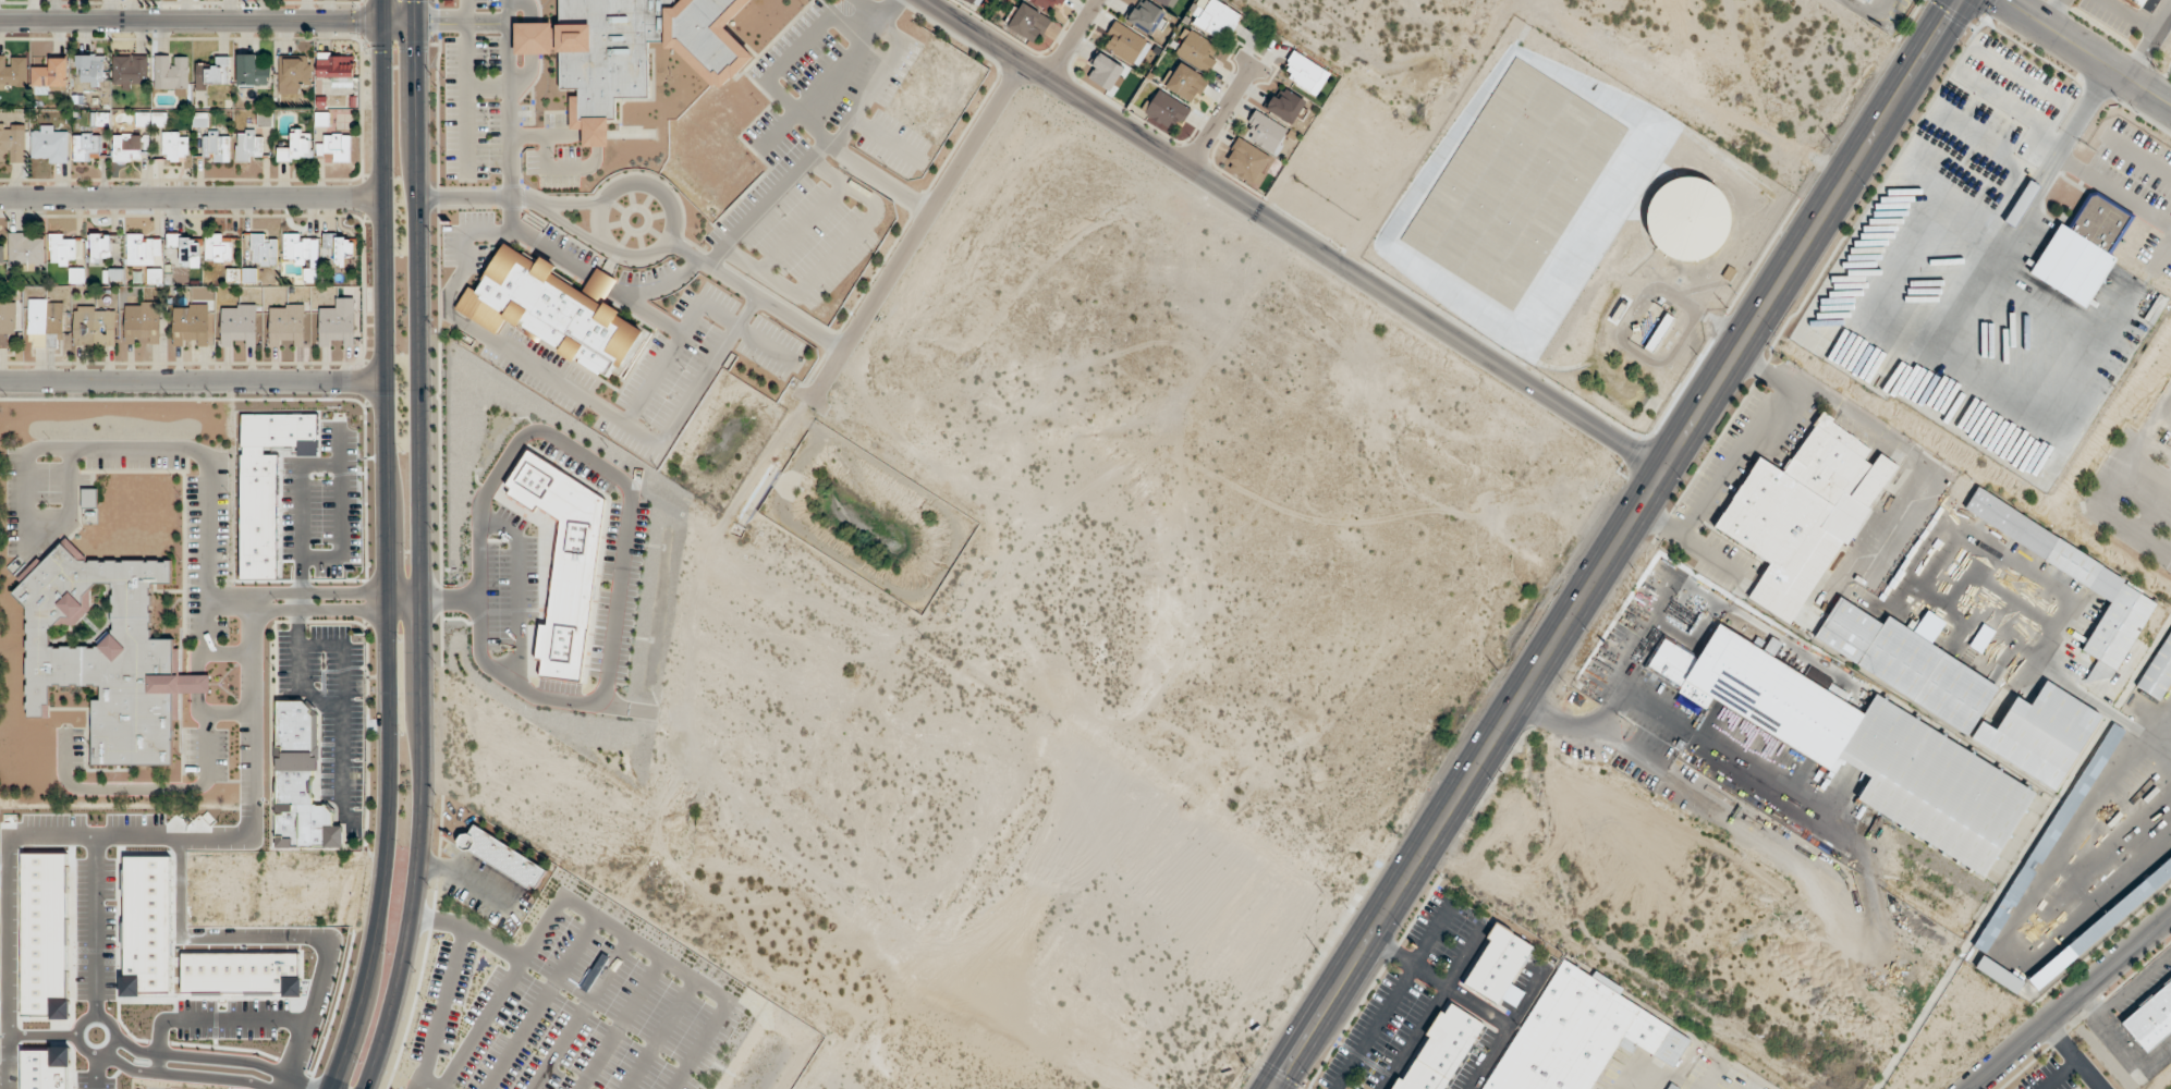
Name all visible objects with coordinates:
building: (973, 1)
building: (1862, 1)
building: (1866, 1)
building: (1046, 2)
parking lot: (486, 3)
building: (1167, 3)
building: (2134, 3)
road: (866, 7)
road: (2048, 11)
building: (1147, 17)
building: (1216, 19)
road: (461, 20)
road: (207, 21)
traffic signals: (352, 21)
traffic signals: (439, 21)
building: (1027, 24)
road: (887, 32)
road: (1070, 39)
road: (2150, 40)
building: (1125, 45)
building: (630, 50)
building: (1197, 51)
road: (2087, 51)
traffic signals: (415, 52)
road: (845, 58)
building: (334, 66)
road: (530, 69)
building: (90, 70)
building: (130, 71)
building: (13, 72)
building: (252, 72)
building: (294, 72)
building: (1103, 73)
building: (50, 74)
building: (171, 74)
building: (1305, 74)
building: (214, 75)
building: (1185, 83)
road: (466, 89)
road: (866, 94)
parking lot: (473, 107)
building: (1286, 107)
building: (1167, 110)
parking lot: (524, 113)
road: (1220, 113)
road: (509, 114)
parking lot: (557, 120)
road: (777, 131)
building: (1265, 134)
road: (552, 135)
road: (889, 140)
power tower: (1829, 143)
building: (49, 144)
building: (12, 145)
building: (1502, 145)
building: (173, 146)
building: (248, 146)
building: (85, 147)
building: (215, 147)
building: (296, 147)
building: (125, 148)
building: (334, 149)
road: (840, 152)
parking lot: (897, 156)
road: (2140, 156)
building: (1246, 162)
road: (2066, 163)
parking lot: (557, 168)
road: (566, 169)
road: (667, 195)
road: (192, 196)
road: (517, 199)
road: (767, 203)
building: (2020, 203)
road: (564, 205)
silo: (1686, 218)
building: (1687, 219)
road: (913, 235)
road: (1292, 235)
parking lot: (467, 241)
building: (100, 248)
building: (220, 248)
building: (571, 248)
building: (2081, 248)
building: (25, 249)
building: (62, 249)
building: (185, 249)
building: (264, 249)
building: (342, 249)
building: (143, 250)
building: (303, 253)
parking lot: (648, 274)
building: (75, 277)
building: (231, 277)
building: (112, 278)
road: (596, 279)
road: (662, 286)
road: (756, 295)
building: (551, 309)
power tower: (1724, 309)
road: (693, 311)
building: (7, 320)
building: (141, 321)
building: (45, 323)
building: (190, 325)
building: (286, 325)
building: (239, 326)
building: (336, 326)
building: (94, 327)
building: (1658, 333)
parking lot: (649, 371)
road: (193, 381)
road: (573, 392)
road: (1856, 414)
road: (1732, 458)
power tower: (1622, 470)
road: (206, 478)
road: (2114, 482)
building: (258, 489)
building: (88, 499)
road: (1659, 519)
road: (625, 521)
parking lot: (315, 525)
road: (296, 533)
road: (1615, 544)
road: (31, 548)
road: (387, 548)
road: (419, 548)
building: (2060, 555)
building: (556, 568)
building: (2018, 586)
road: (319, 592)
road: (403, 596)
road: (230, 601)
road: (320, 610)
building: (2001, 613)
building: (1928, 626)
road: (1631, 638)
road: (296, 641)
road: (230, 653)
building: (106, 654)
building: (1906, 664)
building: (2157, 670)
power tower: (1495, 672)
road: (196, 684)
road: (317, 698)
road: (231, 712)
road: (343, 717)
road: (1676, 725)
building: (2039, 733)
building: (1856, 745)
building: (298, 782)
road: (153, 790)
road: (255, 806)
power tower: (1393, 833)
building: (2048, 836)
building: (501, 857)
road: (467, 874)
road: (563, 903)
building: (138, 910)
road: (439, 921)
building: (2100, 925)
road: (5, 926)
building: (36, 940)
road: (277, 945)
power tower: (1318, 954)
building: (1497, 967)
road: (89, 969)
building: (1997, 974)
road: (2070, 1002)
building: (2150, 1018)
road: (207, 1028)
building: (1576, 1036)
building: (1439, 1050)
road: (2072, 1056)
power tower: (1246, 1067)
road: (175, 1073)
building: (32, 1074)
road: (2059, 1075)
road: (419, 1082)
road: (432, 1082)
building: (1672, 1087)

